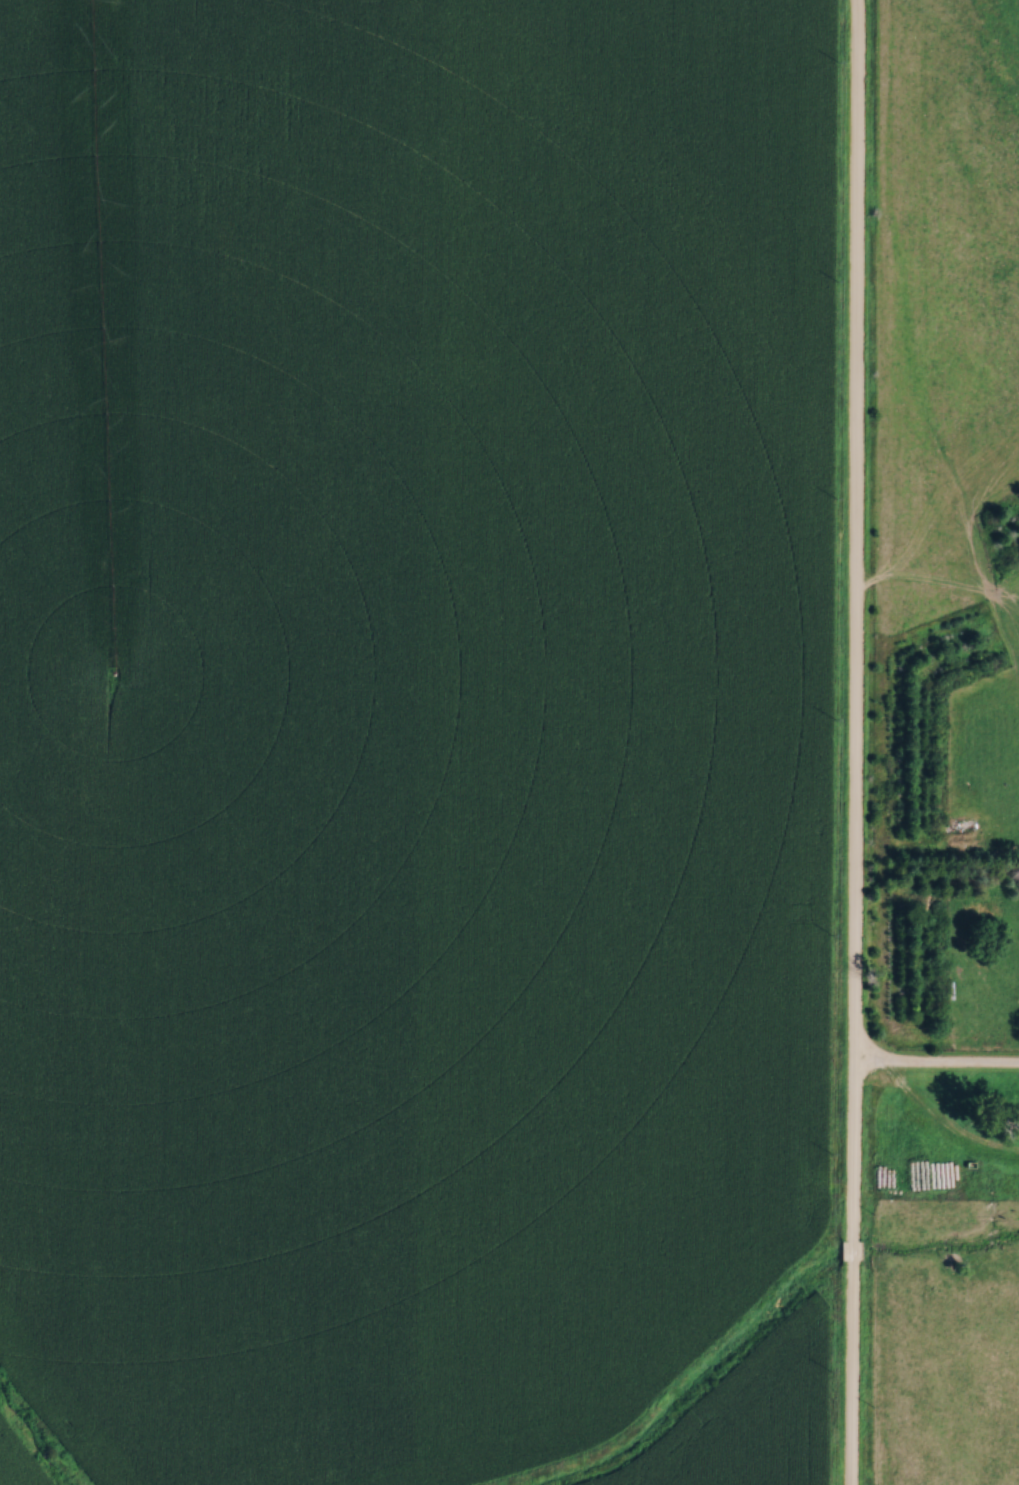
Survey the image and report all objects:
road: (853, 742)
road: (936, 1066)

